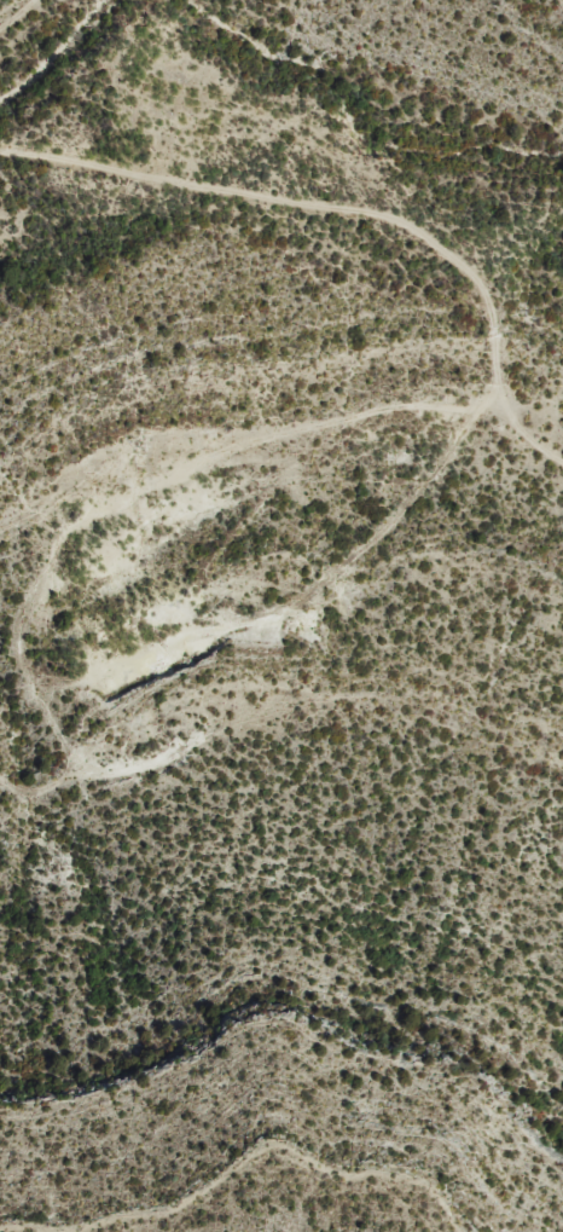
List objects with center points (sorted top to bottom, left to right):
road: (19, 18)

